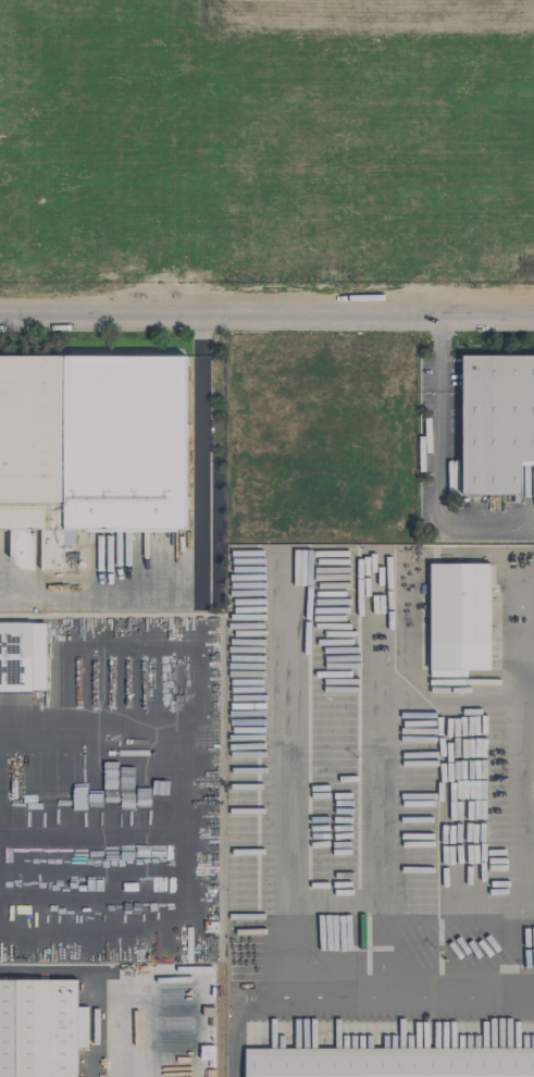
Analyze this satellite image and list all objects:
road: (266, 314)
building: (496, 422)
building: (89, 449)
road: (438, 461)
building: (69, 549)
road: (199, 549)
road: (454, 555)
building: (459, 618)
building: (22, 657)
road: (452, 703)
road: (182, 776)
road: (524, 777)
road: (382, 779)
road: (131, 932)
road: (103, 978)
road: (386, 994)
building: (38, 1028)
road: (239, 1044)
building: (389, 1062)

